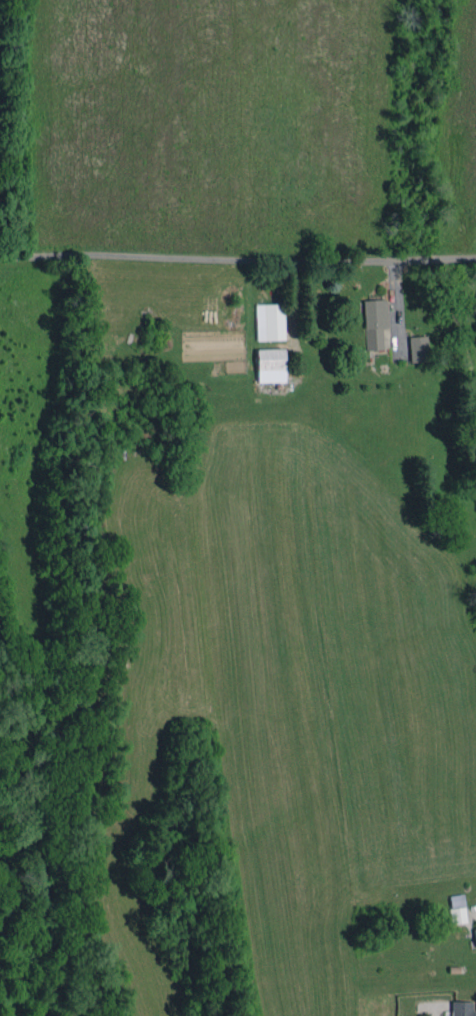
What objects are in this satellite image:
road: (237, 258)
building: (269, 321)
building: (374, 323)
building: (418, 348)
building: (270, 365)
building: (456, 900)
building: (457, 915)
building: (475, 936)
building: (461, 1008)

